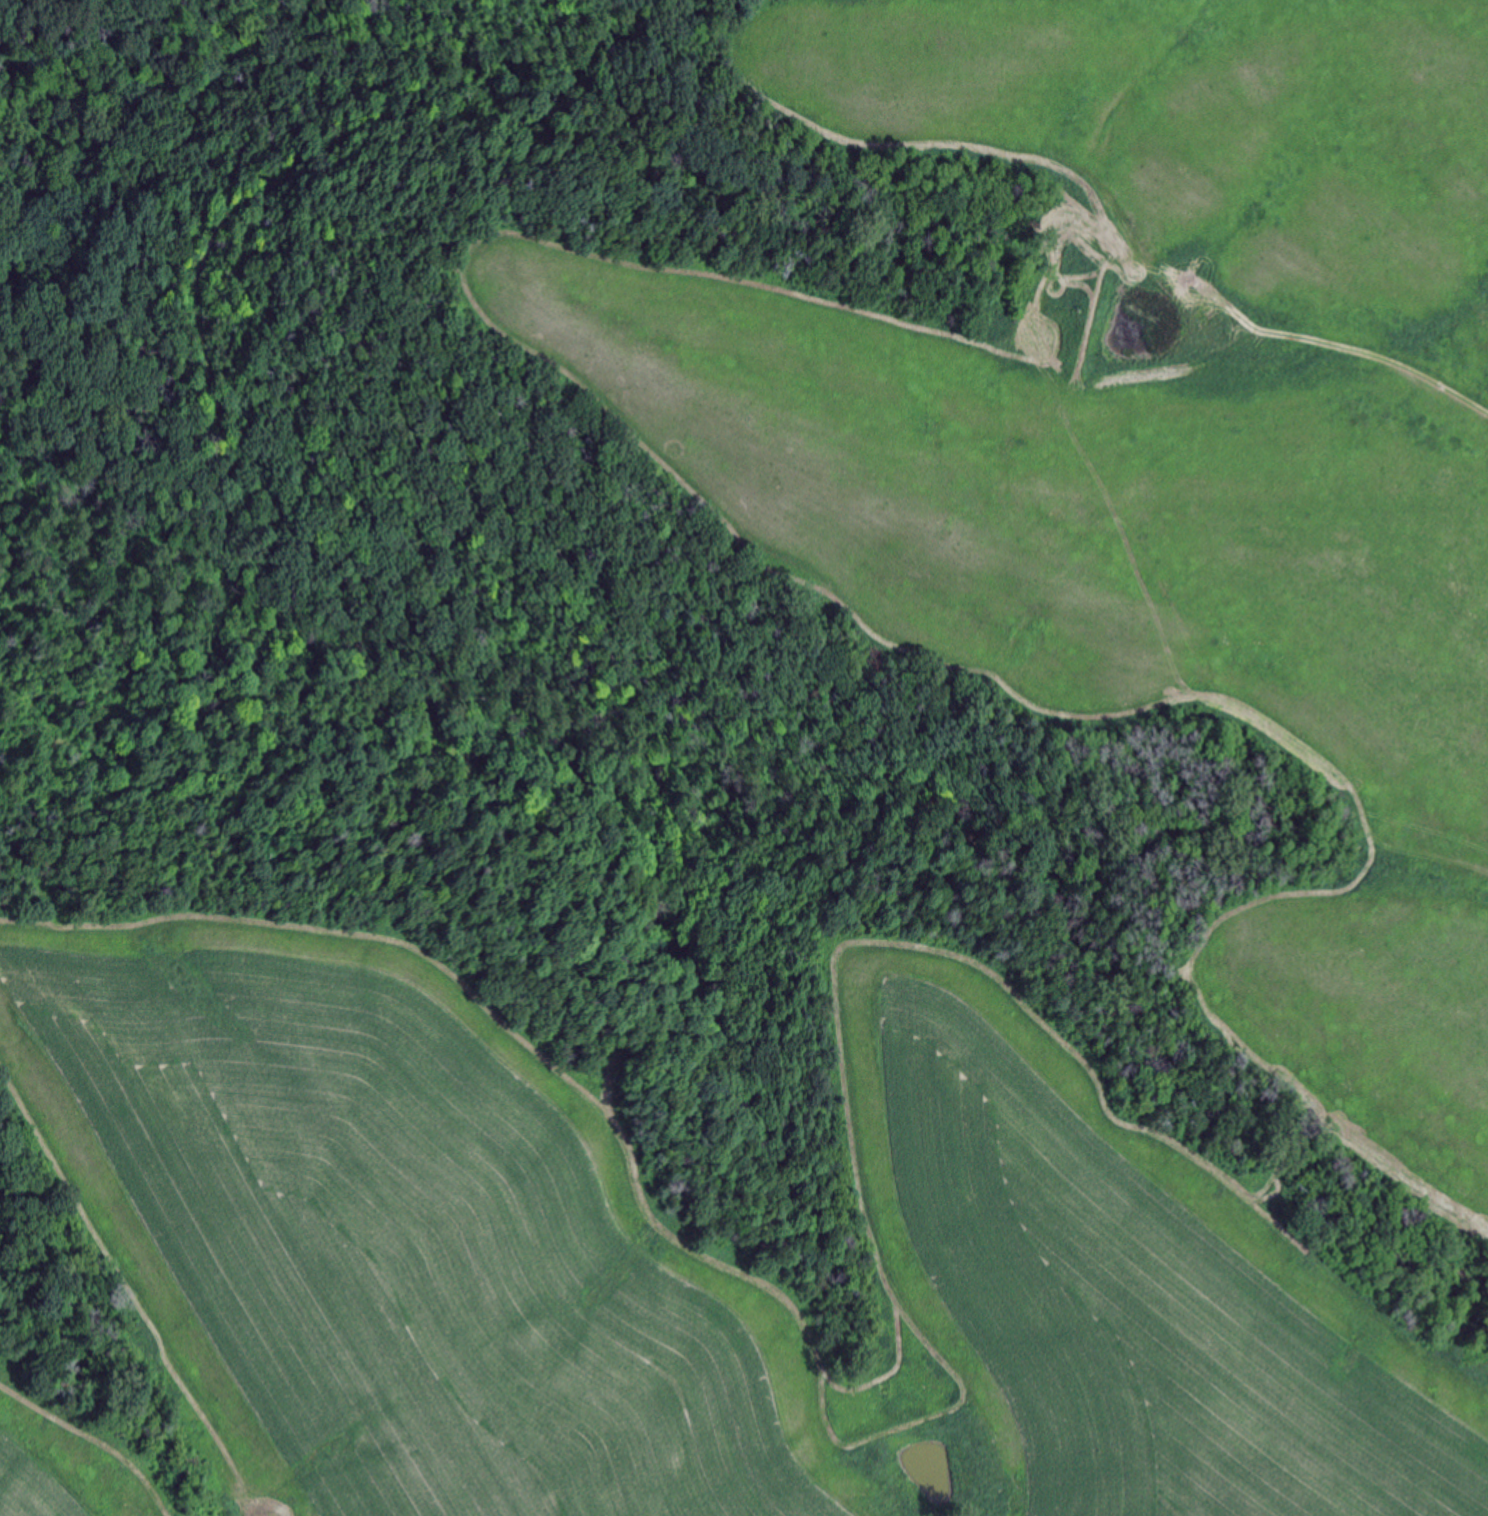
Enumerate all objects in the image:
river: (914, 1423)

